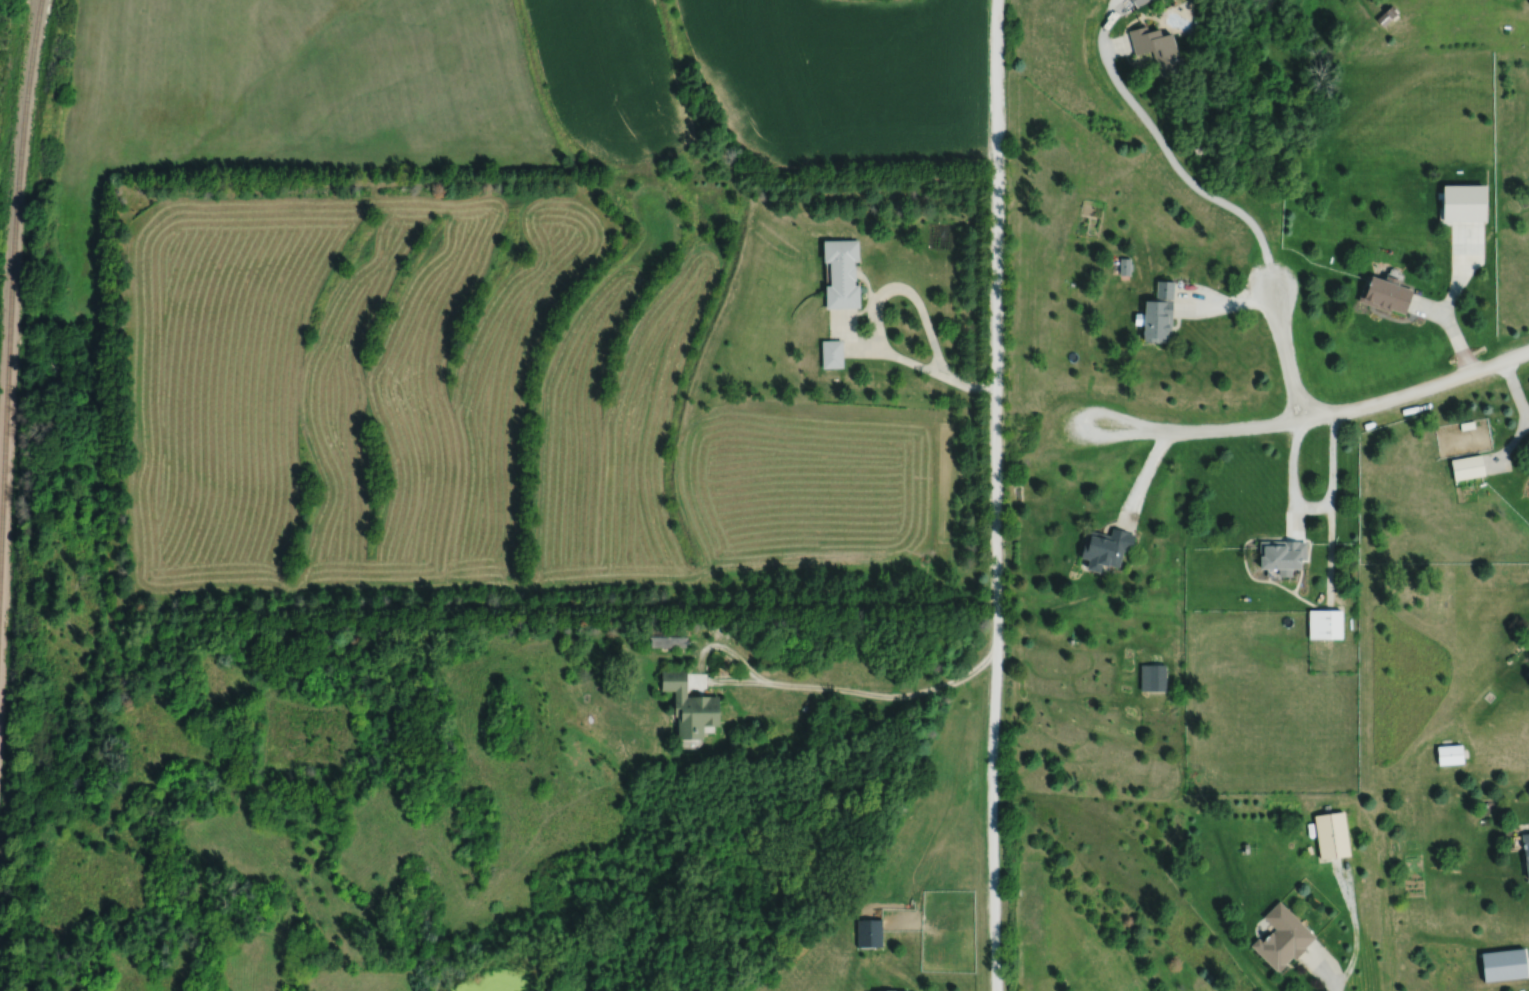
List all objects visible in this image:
building: (1137, 2)
building: (1528, 3)
building: (1386, 13)
building: (1157, 47)
road: (1165, 150)
building: (1464, 204)
building: (1124, 265)
railway: (12, 268)
building: (842, 273)
building: (1384, 293)
road: (1448, 298)
road: (1227, 302)
road: (1428, 307)
building: (1159, 313)
road: (873, 317)
road: (850, 340)
road: (1285, 350)
building: (832, 353)
road: (1515, 388)
road: (1315, 415)
building: (1460, 424)
road: (1511, 440)
building: (1466, 464)
road: (1143, 474)
road: (995, 495)
road: (1315, 506)
building: (1103, 545)
building: (1280, 552)
building: (1324, 622)
building: (667, 635)
building: (1151, 676)
road: (708, 678)
road: (881, 694)
building: (689, 704)
building: (1448, 753)
building: (1331, 834)
building: (1525, 850)
road: (1354, 927)
building: (868, 931)
building: (1281, 937)
building: (1502, 964)
building: (889, 990)
building: (893, 990)

